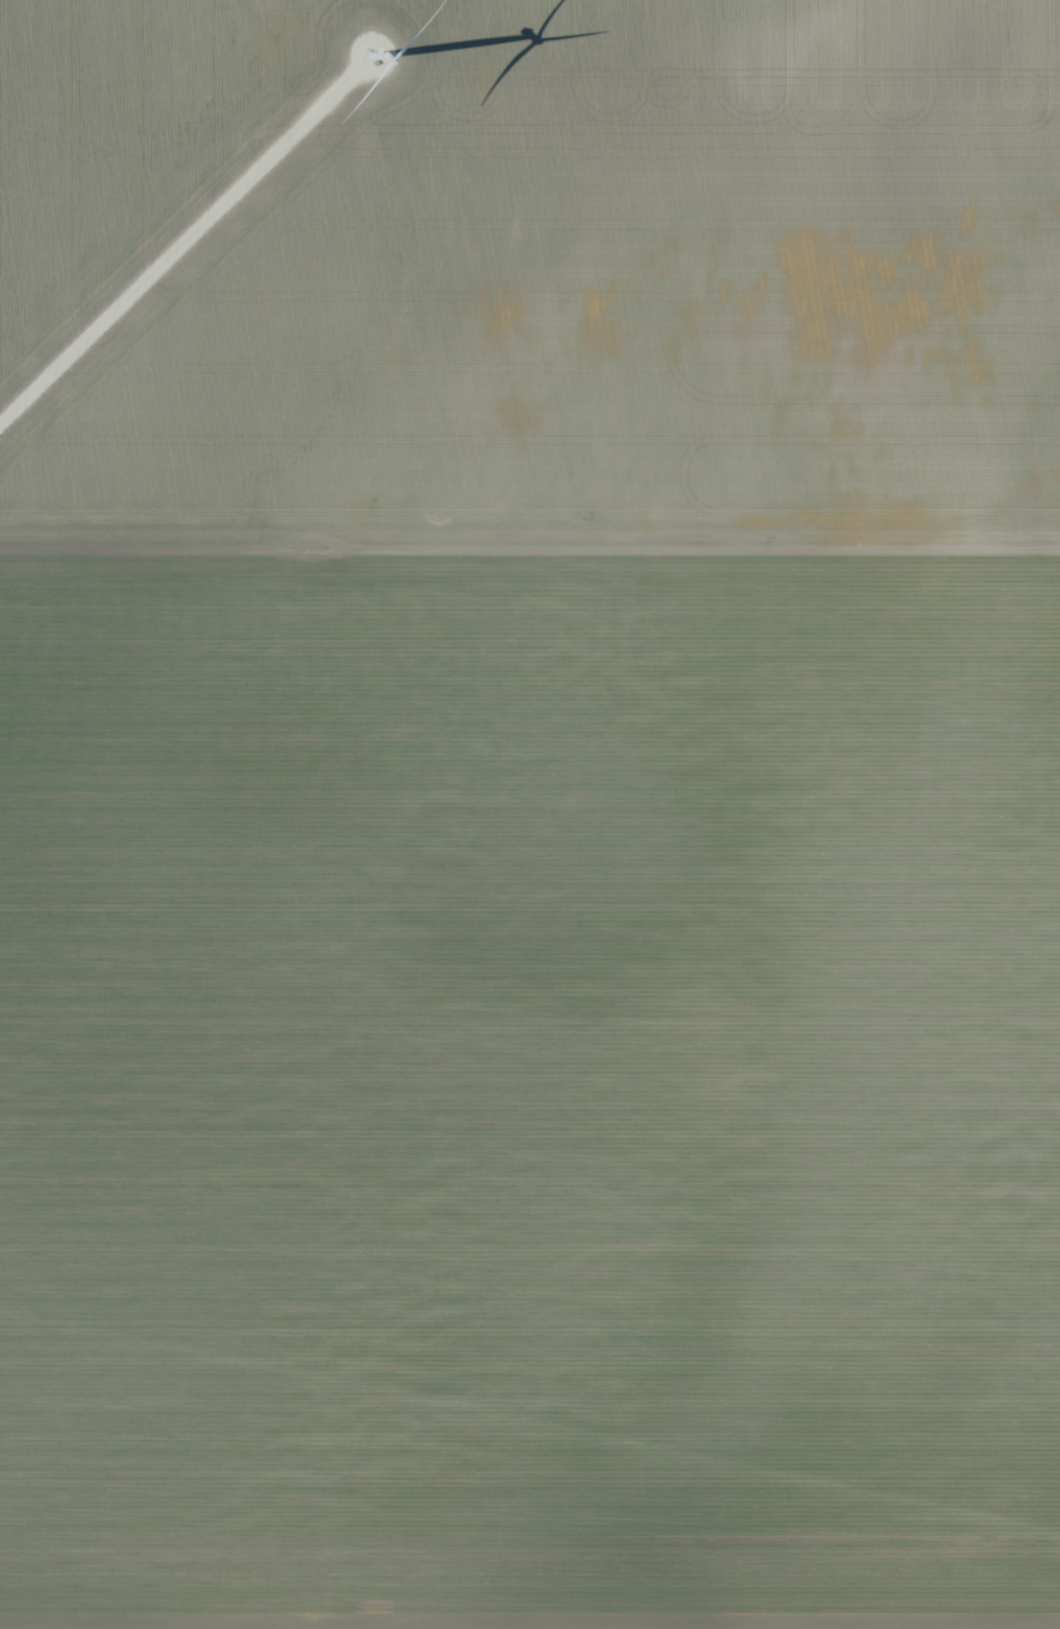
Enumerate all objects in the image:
wind turbine: (369, 54)
road: (184, 239)

